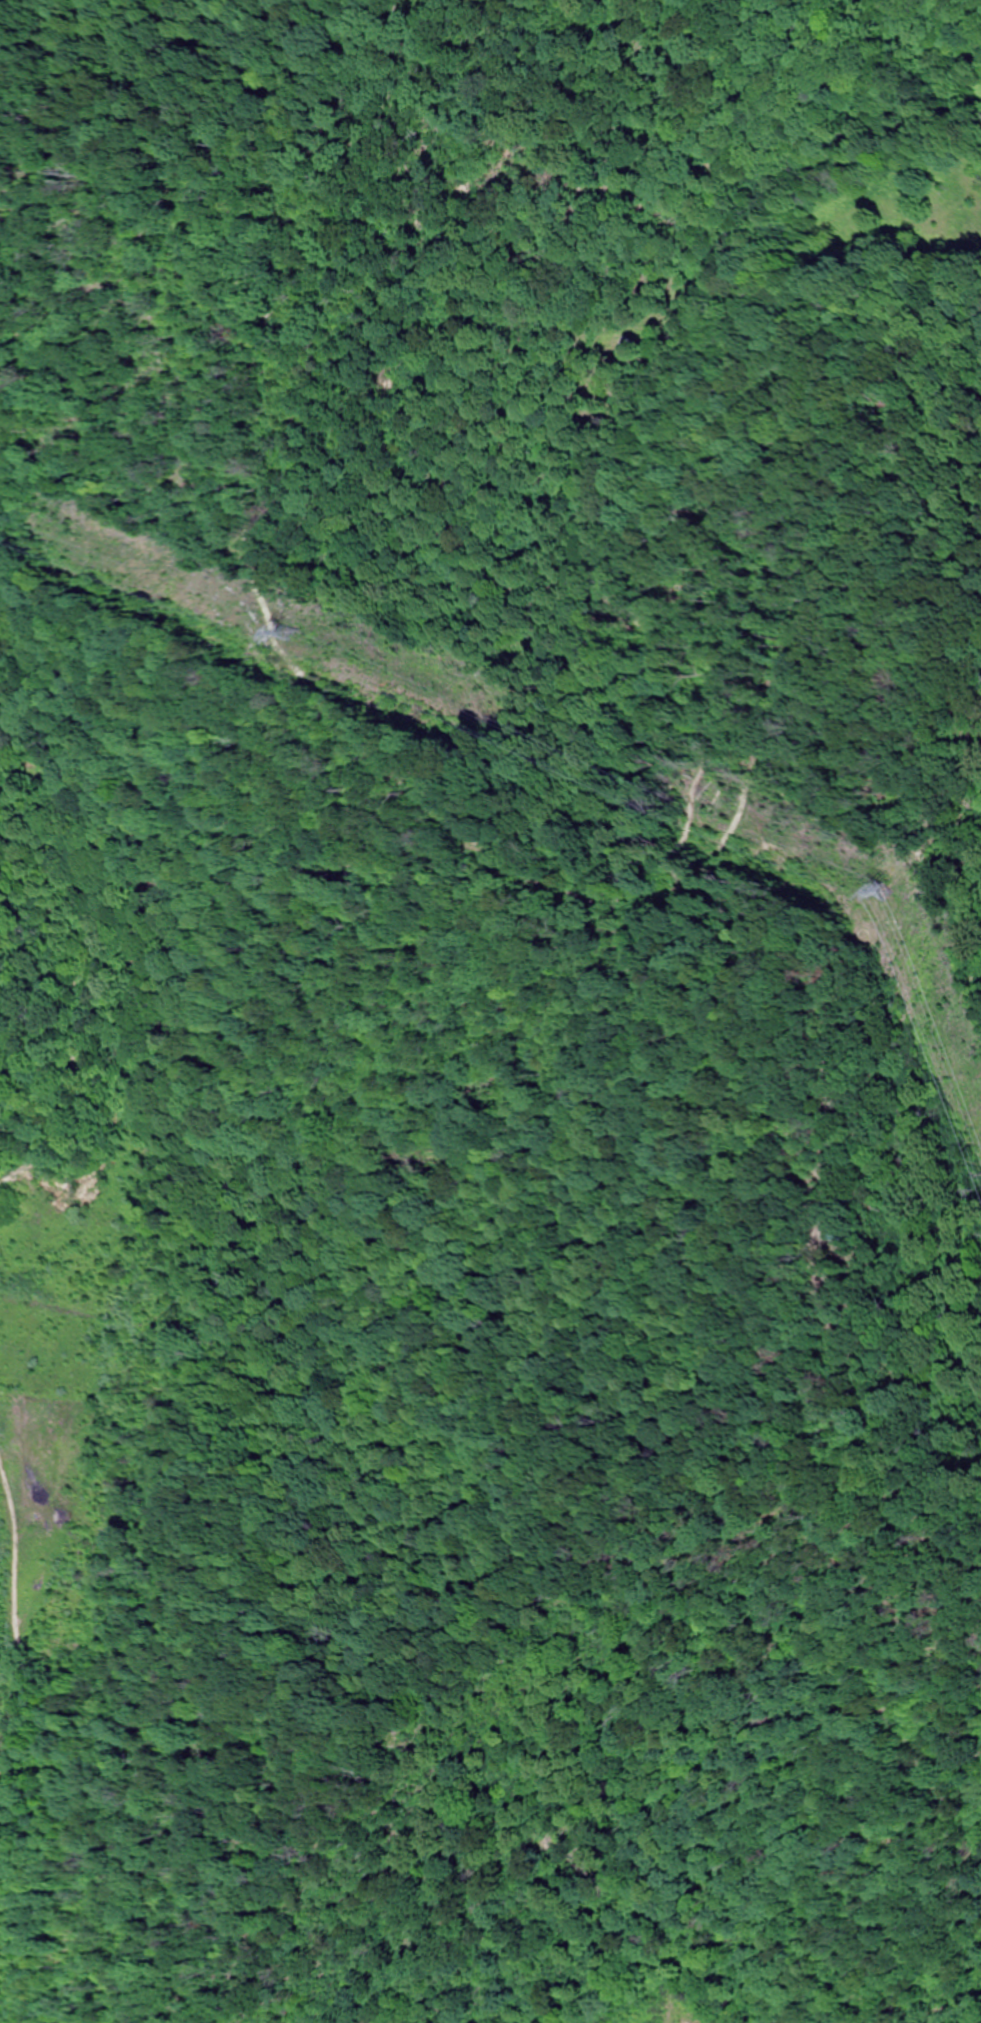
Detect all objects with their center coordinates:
power tower: (304, 635)
power tower: (905, 893)
road: (481, 1762)

